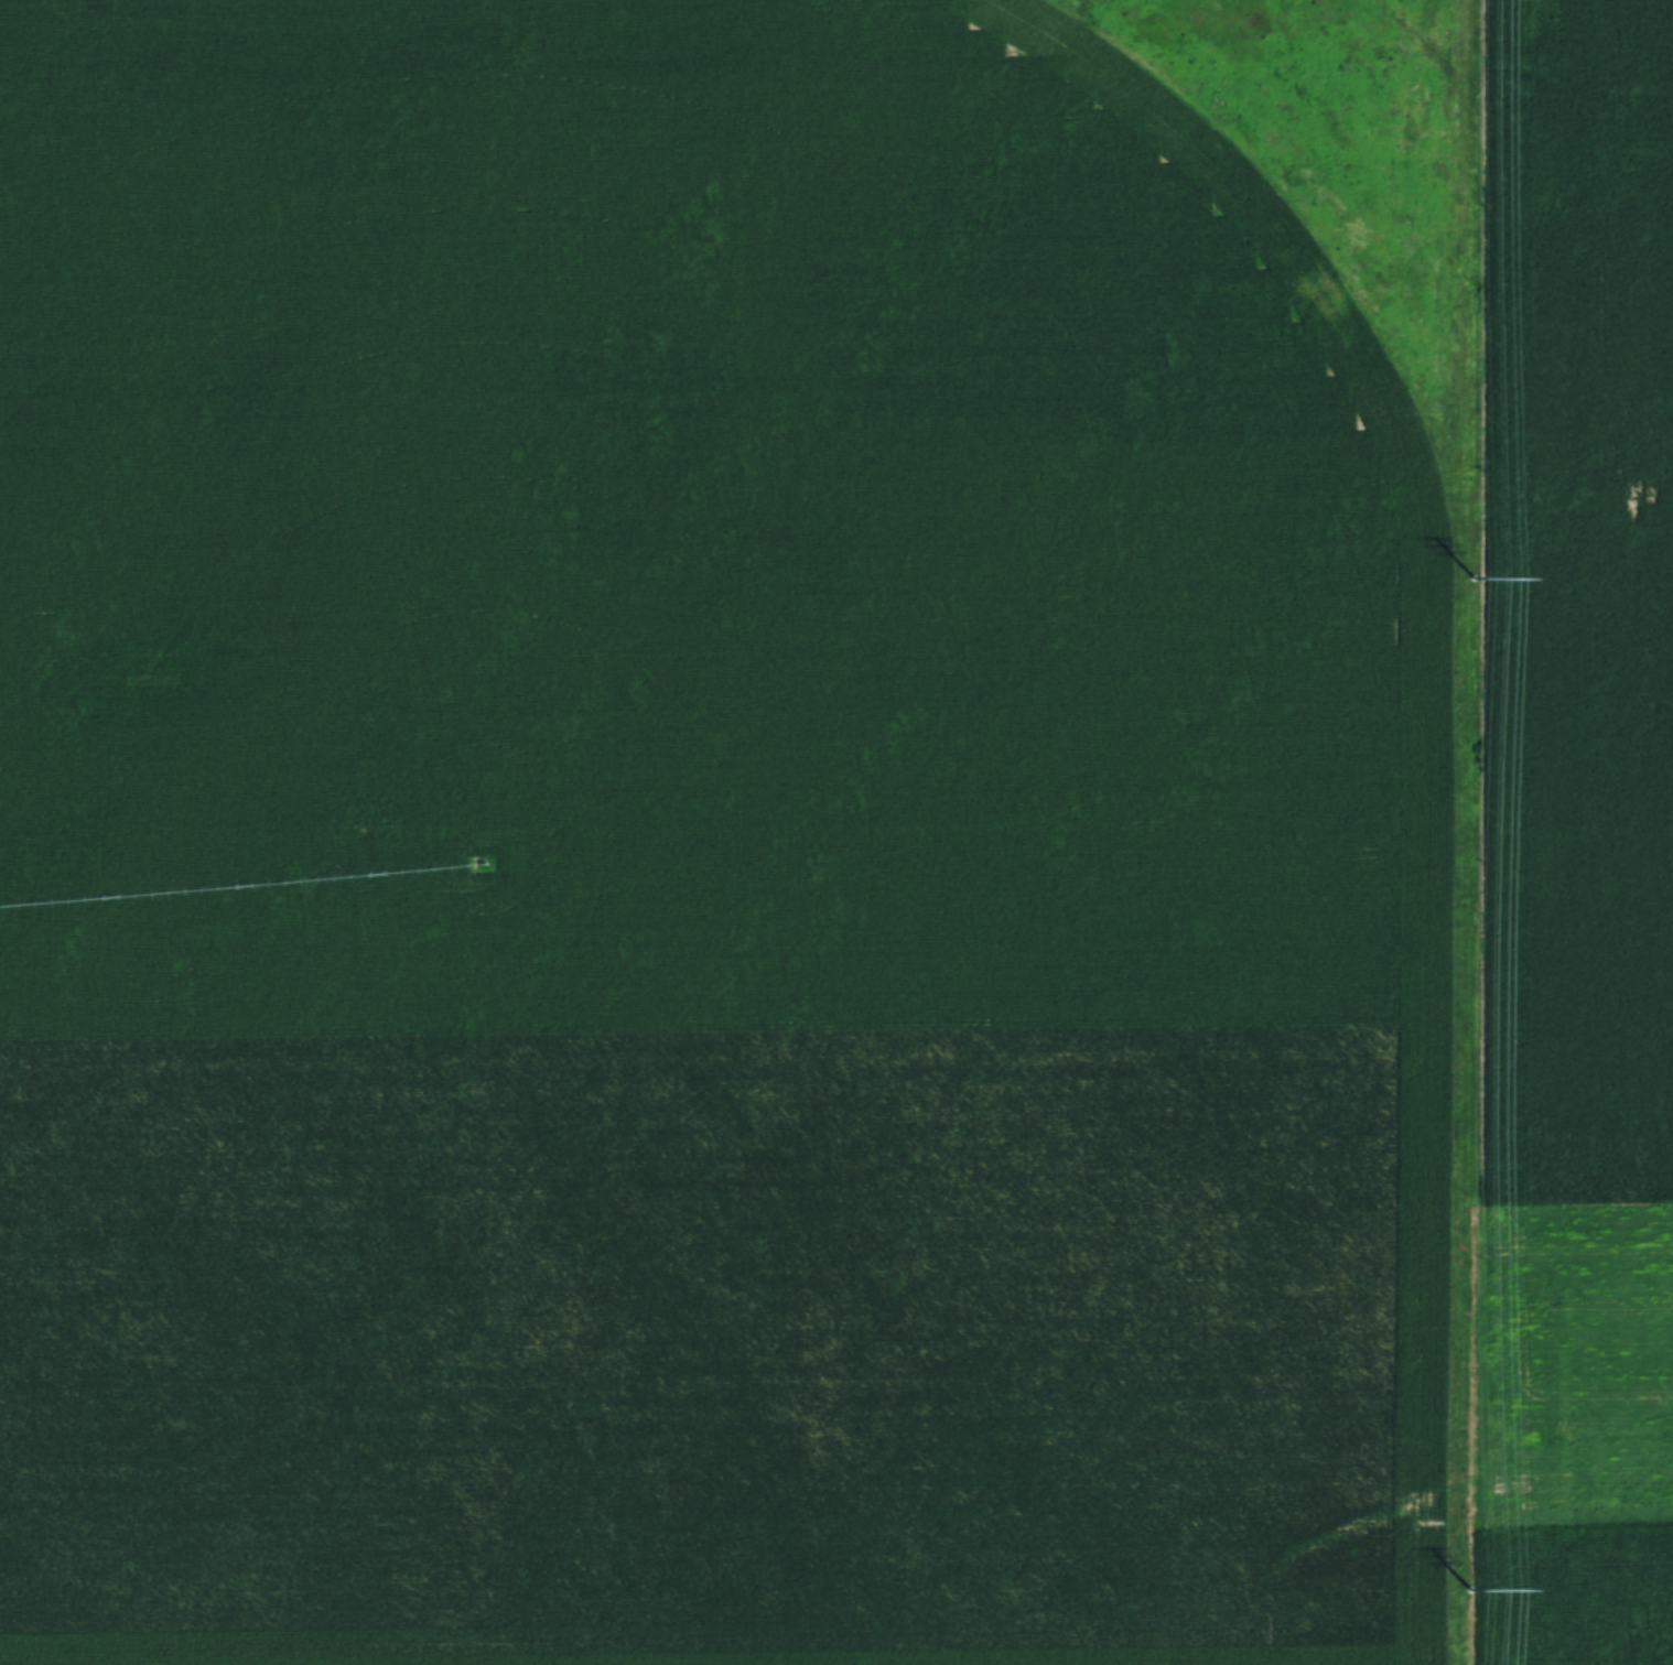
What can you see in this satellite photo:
power tower: (1471, 577)
power tower: (1469, 1591)

